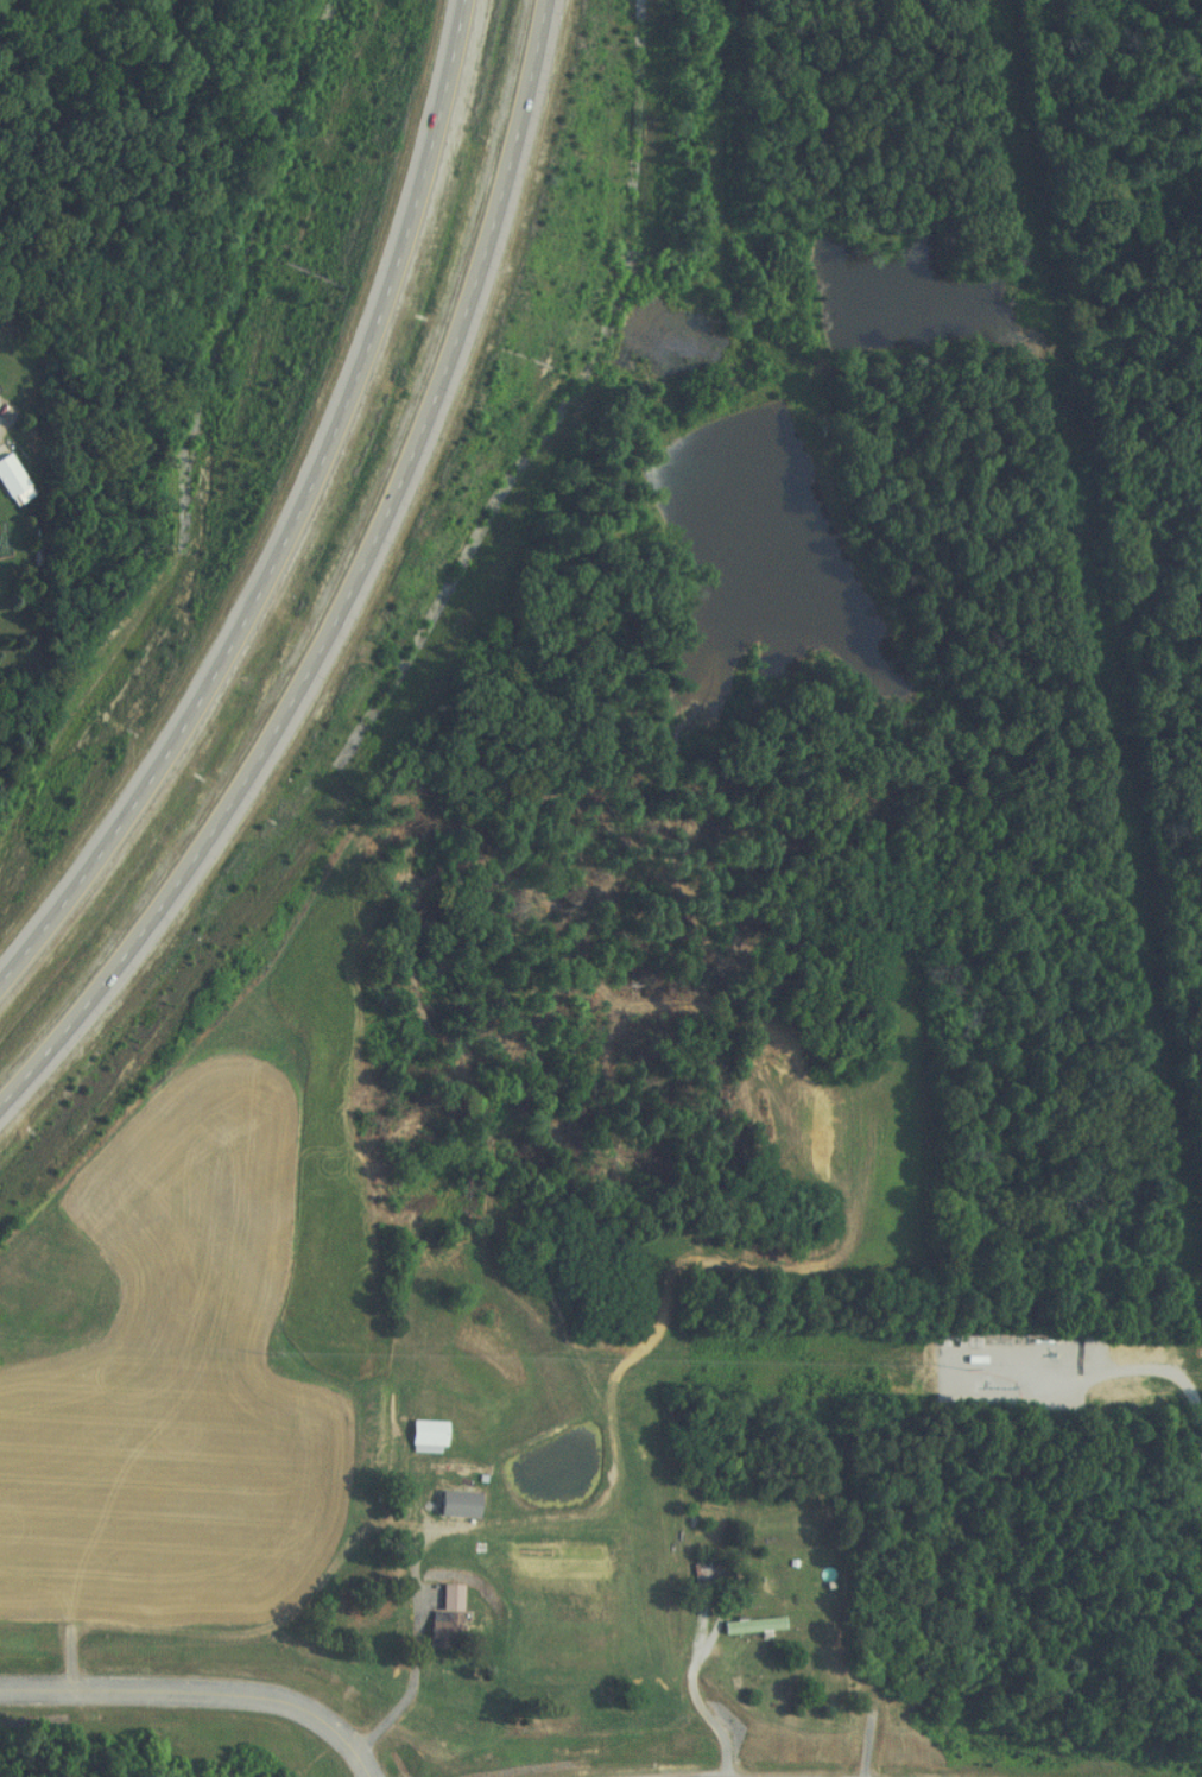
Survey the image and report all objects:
road: (55, 272)
building: (7, 478)
road: (290, 516)
road: (344, 583)
road: (1088, 1364)
building: (422, 1436)
building: (463, 1512)
building: (441, 1620)
building: (754, 1627)
road: (406, 1677)
road: (197, 1691)
road: (692, 1701)

